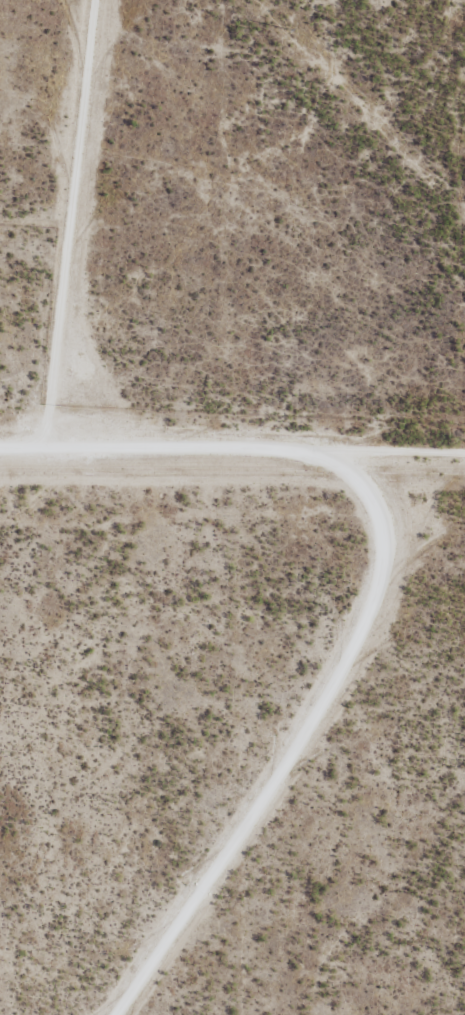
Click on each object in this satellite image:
power tower: (287, 29)
road: (53, 217)
road: (232, 436)
road: (384, 502)
road: (323, 764)

